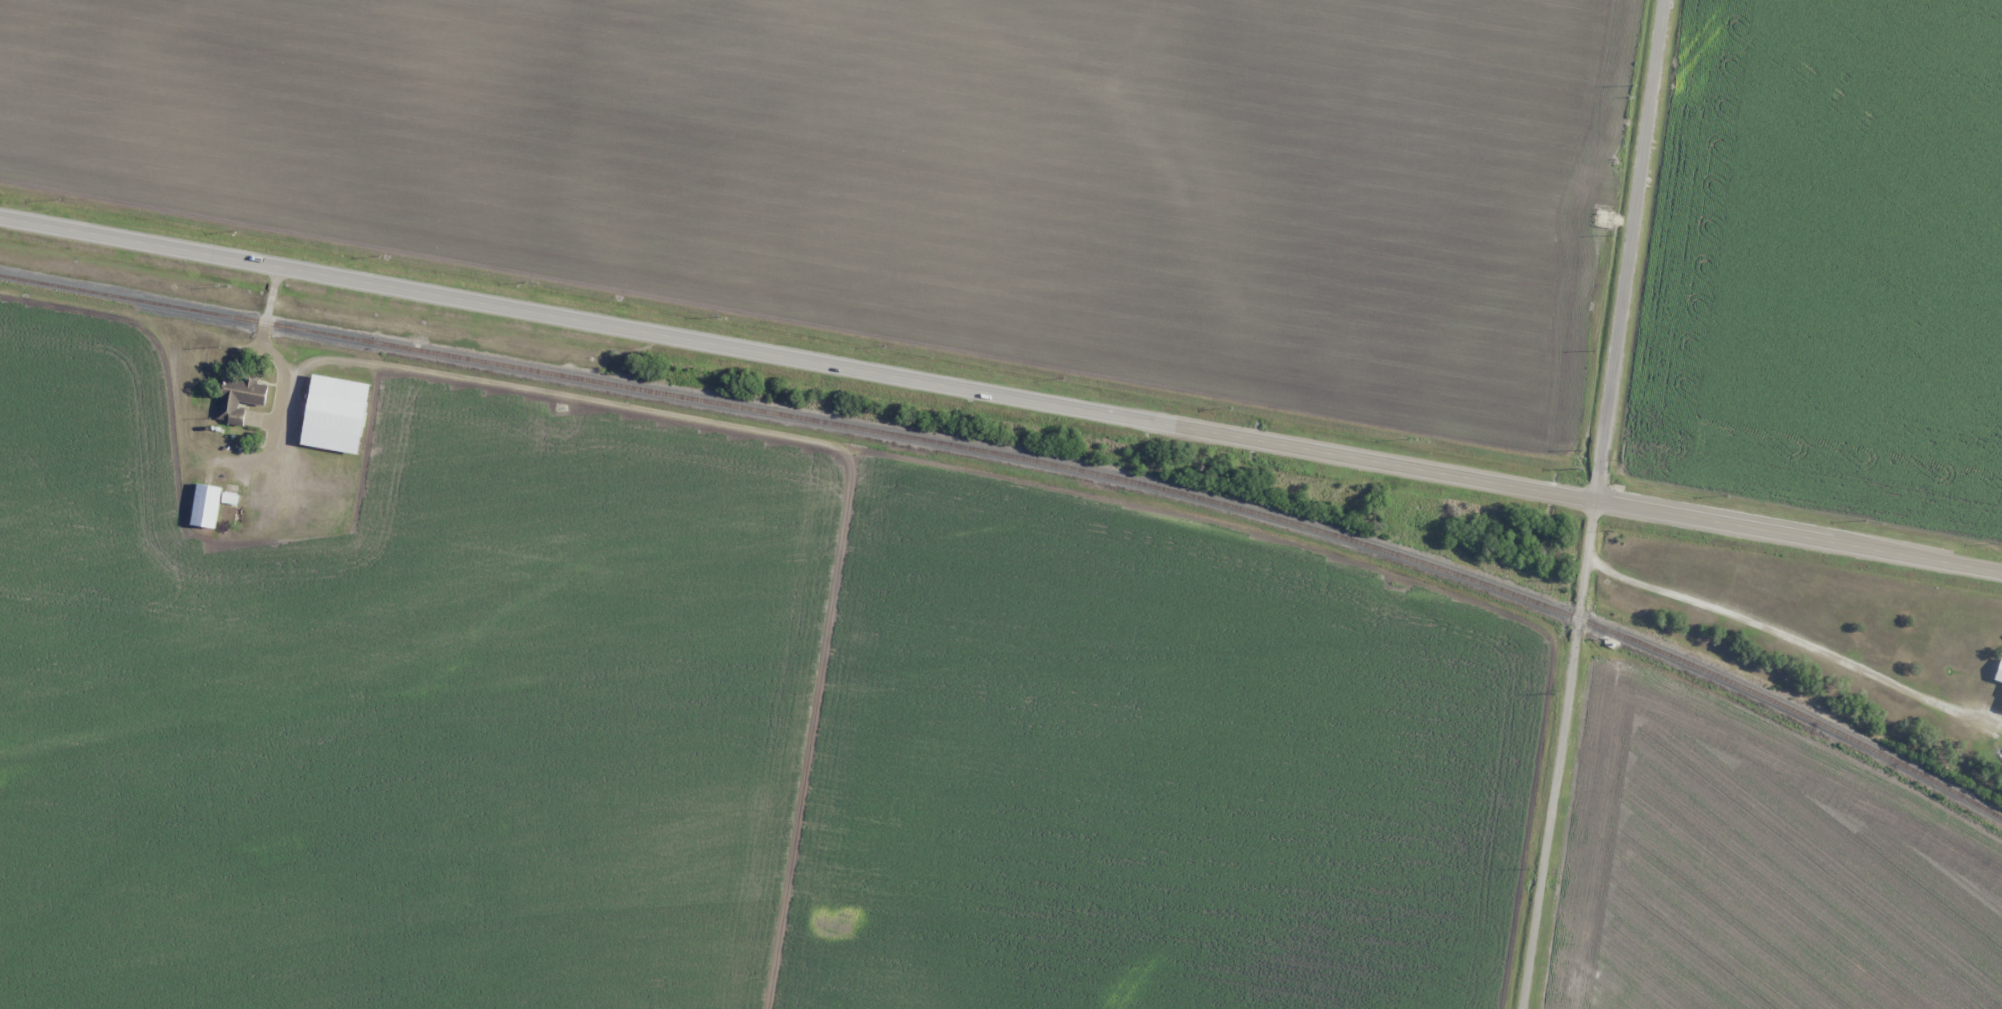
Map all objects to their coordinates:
road: (1001, 388)
building: (238, 399)
building: (334, 406)
railway: (1026, 459)
building: (226, 498)
road: (1598, 505)
building: (203, 506)
building: (2000, 706)
crop: (1759, 875)

